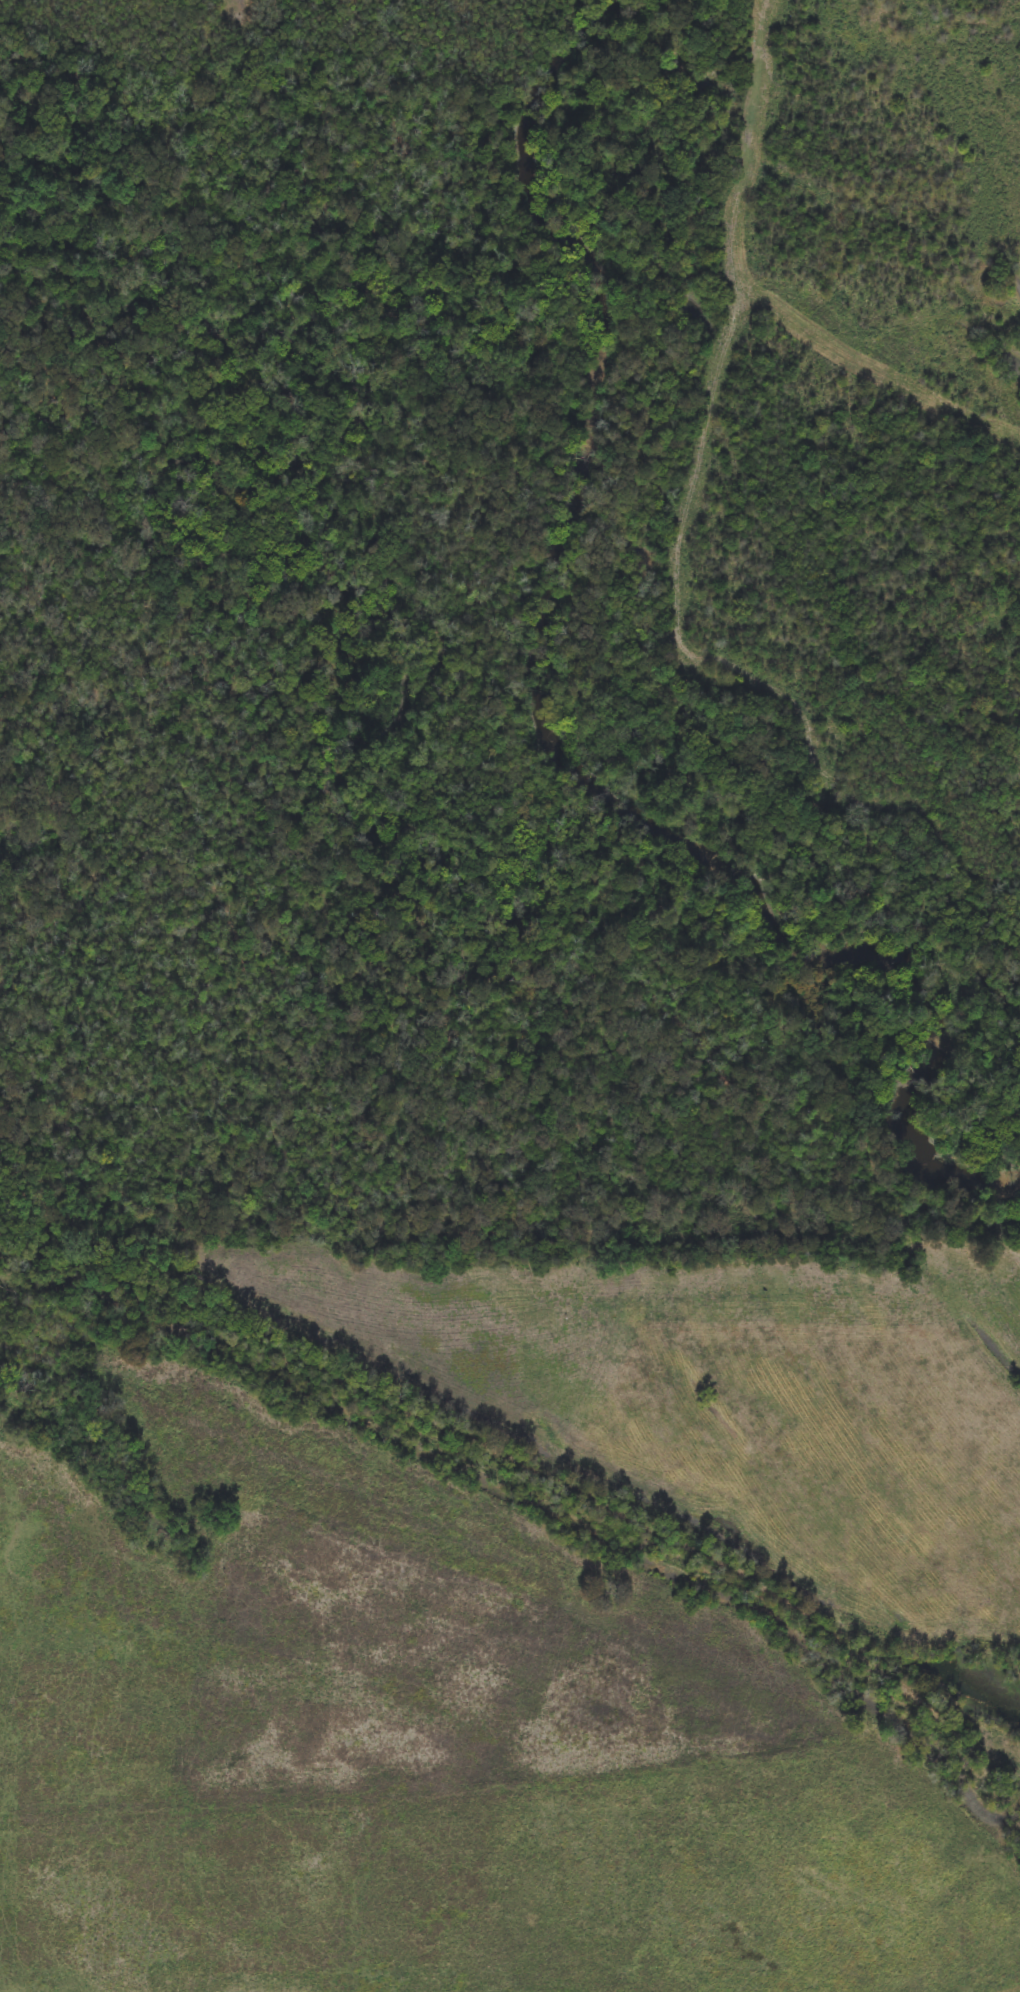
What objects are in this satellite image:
river: (557, 727)

